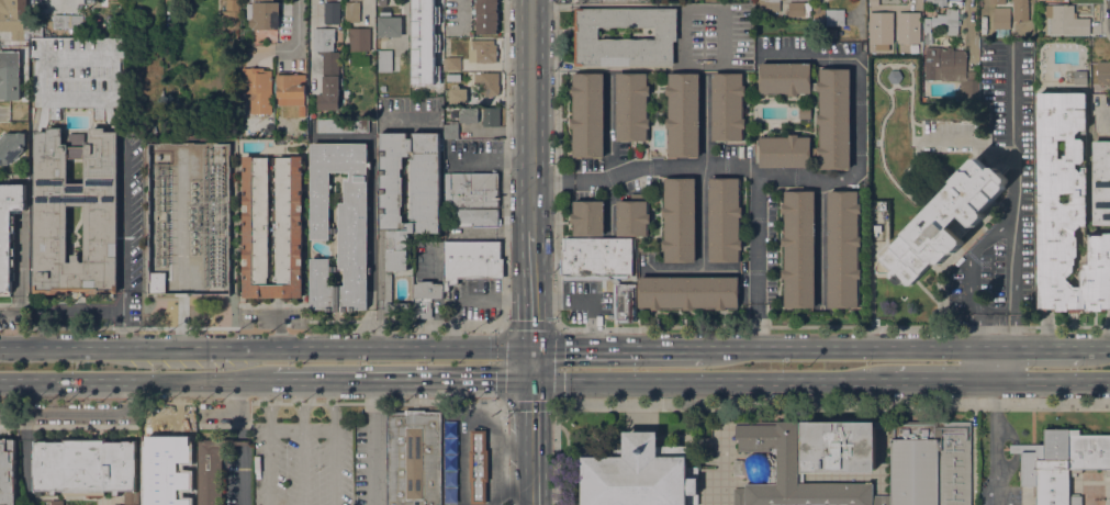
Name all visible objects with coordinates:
building: (382, 2)
building: (431, 2)
building: (939, 2)
building: (998, 2)
building: (769, 4)
road: (982, 7)
building: (798, 9)
building: (333, 12)
building: (351, 12)
building: (896, 12)
building: (231, 14)
building: (265, 15)
building: (486, 16)
building: (827, 16)
building: (1007, 19)
building: (14, 20)
building: (1066, 20)
building: (67, 22)
building: (938, 22)
road: (372, 23)
building: (952, 25)
building: (390, 26)
building: (879, 27)
road: (296, 31)
building: (586, 33)
building: (90, 34)
building: (829, 34)
road: (684, 35)
road: (724, 35)
building: (430, 36)
building: (915, 37)
building: (928, 37)
building: (324, 40)
building: (360, 40)
building: (244, 41)
road: (310, 43)
building: (877, 48)
building: (482, 50)
building: (385, 60)
building: (948, 63)
building: (452, 64)
building: (1103, 72)
building: (10, 77)
building: (76, 77)
building: (894, 77)
building: (1079, 77)
building: (487, 82)
building: (424, 85)
building: (968, 88)
building: (258, 89)
building: (941, 89)
building: (291, 91)
building: (328, 93)
building: (458, 94)
building: (632, 106)
building: (728, 106)
building: (805, 112)
building: (1100, 113)
road: (530, 114)
building: (588, 114)
building: (468, 115)
building: (683, 115)
building: (491, 116)
road: (705, 117)
building: (833, 119)
building: (341, 126)
road: (1011, 130)
building: (451, 131)
building: (11, 146)
road: (609, 151)
road: (504, 161)
road: (558, 161)
road: (643, 164)
road: (825, 173)
building: (1101, 182)
road: (378, 184)
building: (471, 190)
building: (1067, 212)
power substation: (189, 215)
building: (632, 215)
building: (588, 216)
building: (476, 217)
building: (425, 218)
building: (680, 220)
building: (725, 220)
road: (1004, 222)
building: (944, 223)
building: (272, 226)
building: (339, 226)
building: (9, 229)
building: (101, 229)
building: (876, 229)
road: (126, 236)
road: (699, 242)
building: (799, 248)
building: (843, 249)
building: (596, 257)
building: (471, 260)
road: (530, 261)
road: (717, 267)
building: (158, 282)
building: (687, 292)
road: (590, 293)
building: (426, 298)
building: (626, 302)
road: (79, 312)
road: (530, 322)
road: (378, 326)
road: (254, 330)
road: (852, 348)
road: (1038, 348)
road: (1096, 348)
road: (619, 349)
road: (265, 350)
traffic signals: (530, 350)
road: (995, 362)
road: (529, 363)
road: (400, 378)
traffic signals: (529, 378)
road: (711, 378)
road: (944, 378)
road: (1052, 378)
road: (135, 379)
road: (502, 403)
road: (78, 408)
road: (235, 411)
road: (1005, 431)
building: (448, 438)
road: (271, 441)
road: (301, 441)
road: (333, 441)
road: (372, 441)
road: (529, 441)
road: (995, 441)
road: (1016, 449)
building: (414, 458)
road: (25, 459)
building: (853, 462)
building: (1061, 463)
building: (159, 467)
building: (479, 467)
building: (87, 468)
building: (212, 470)
building: (7, 472)
road: (1010, 472)
building: (639, 473)
road: (244, 476)
building: (177, 500)
building: (57, 502)

